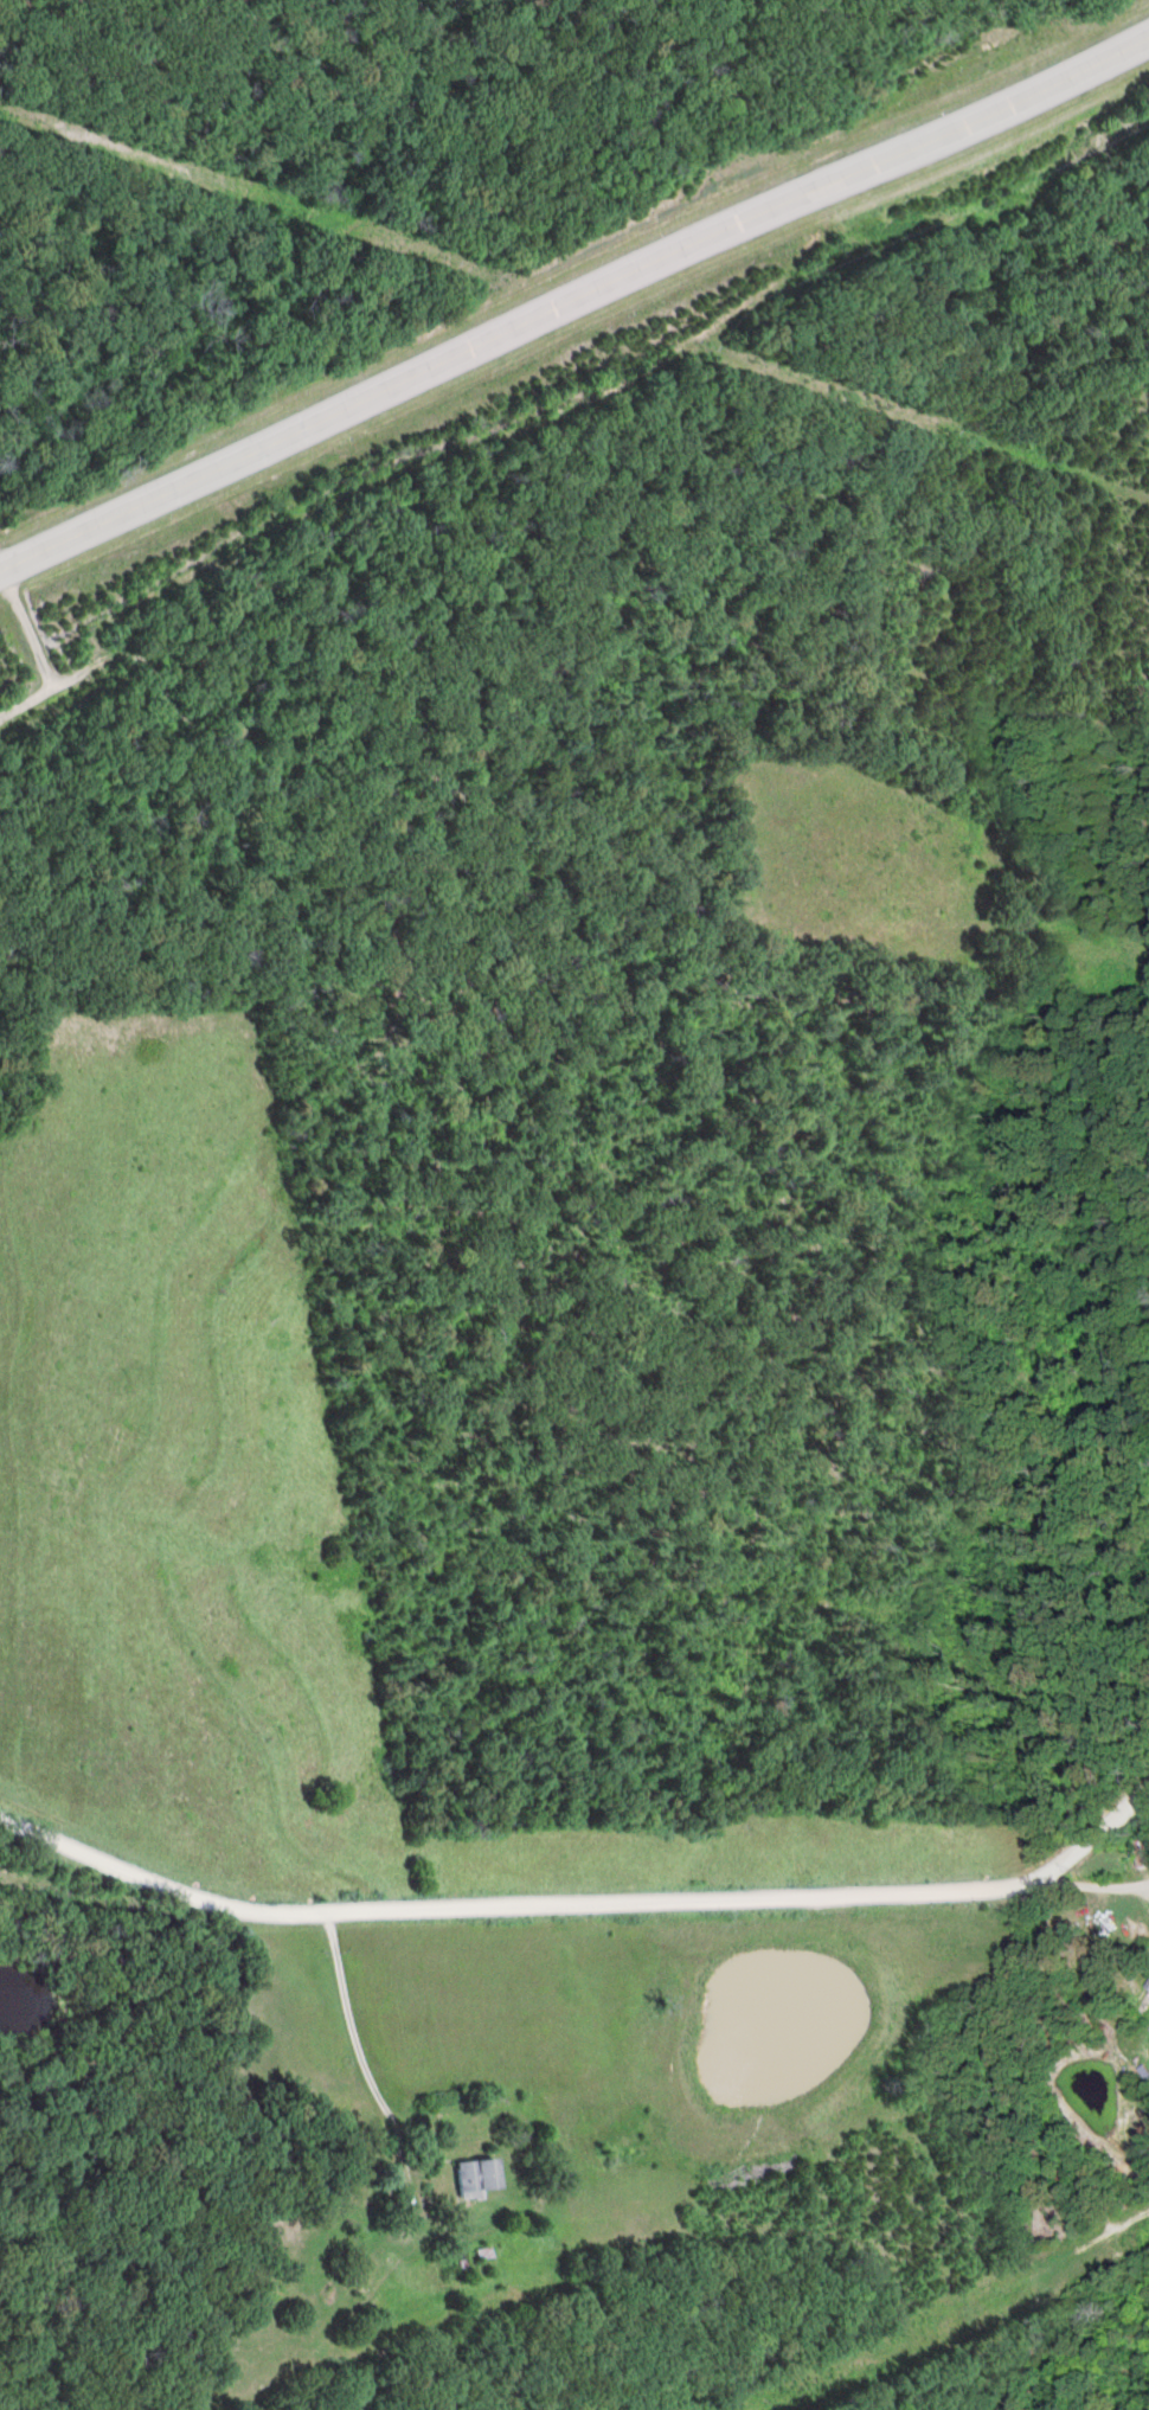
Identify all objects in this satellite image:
road: (574, 303)
road: (1123, 1842)
building: (1143, 1853)
road: (588, 1902)
building: (480, 2178)

